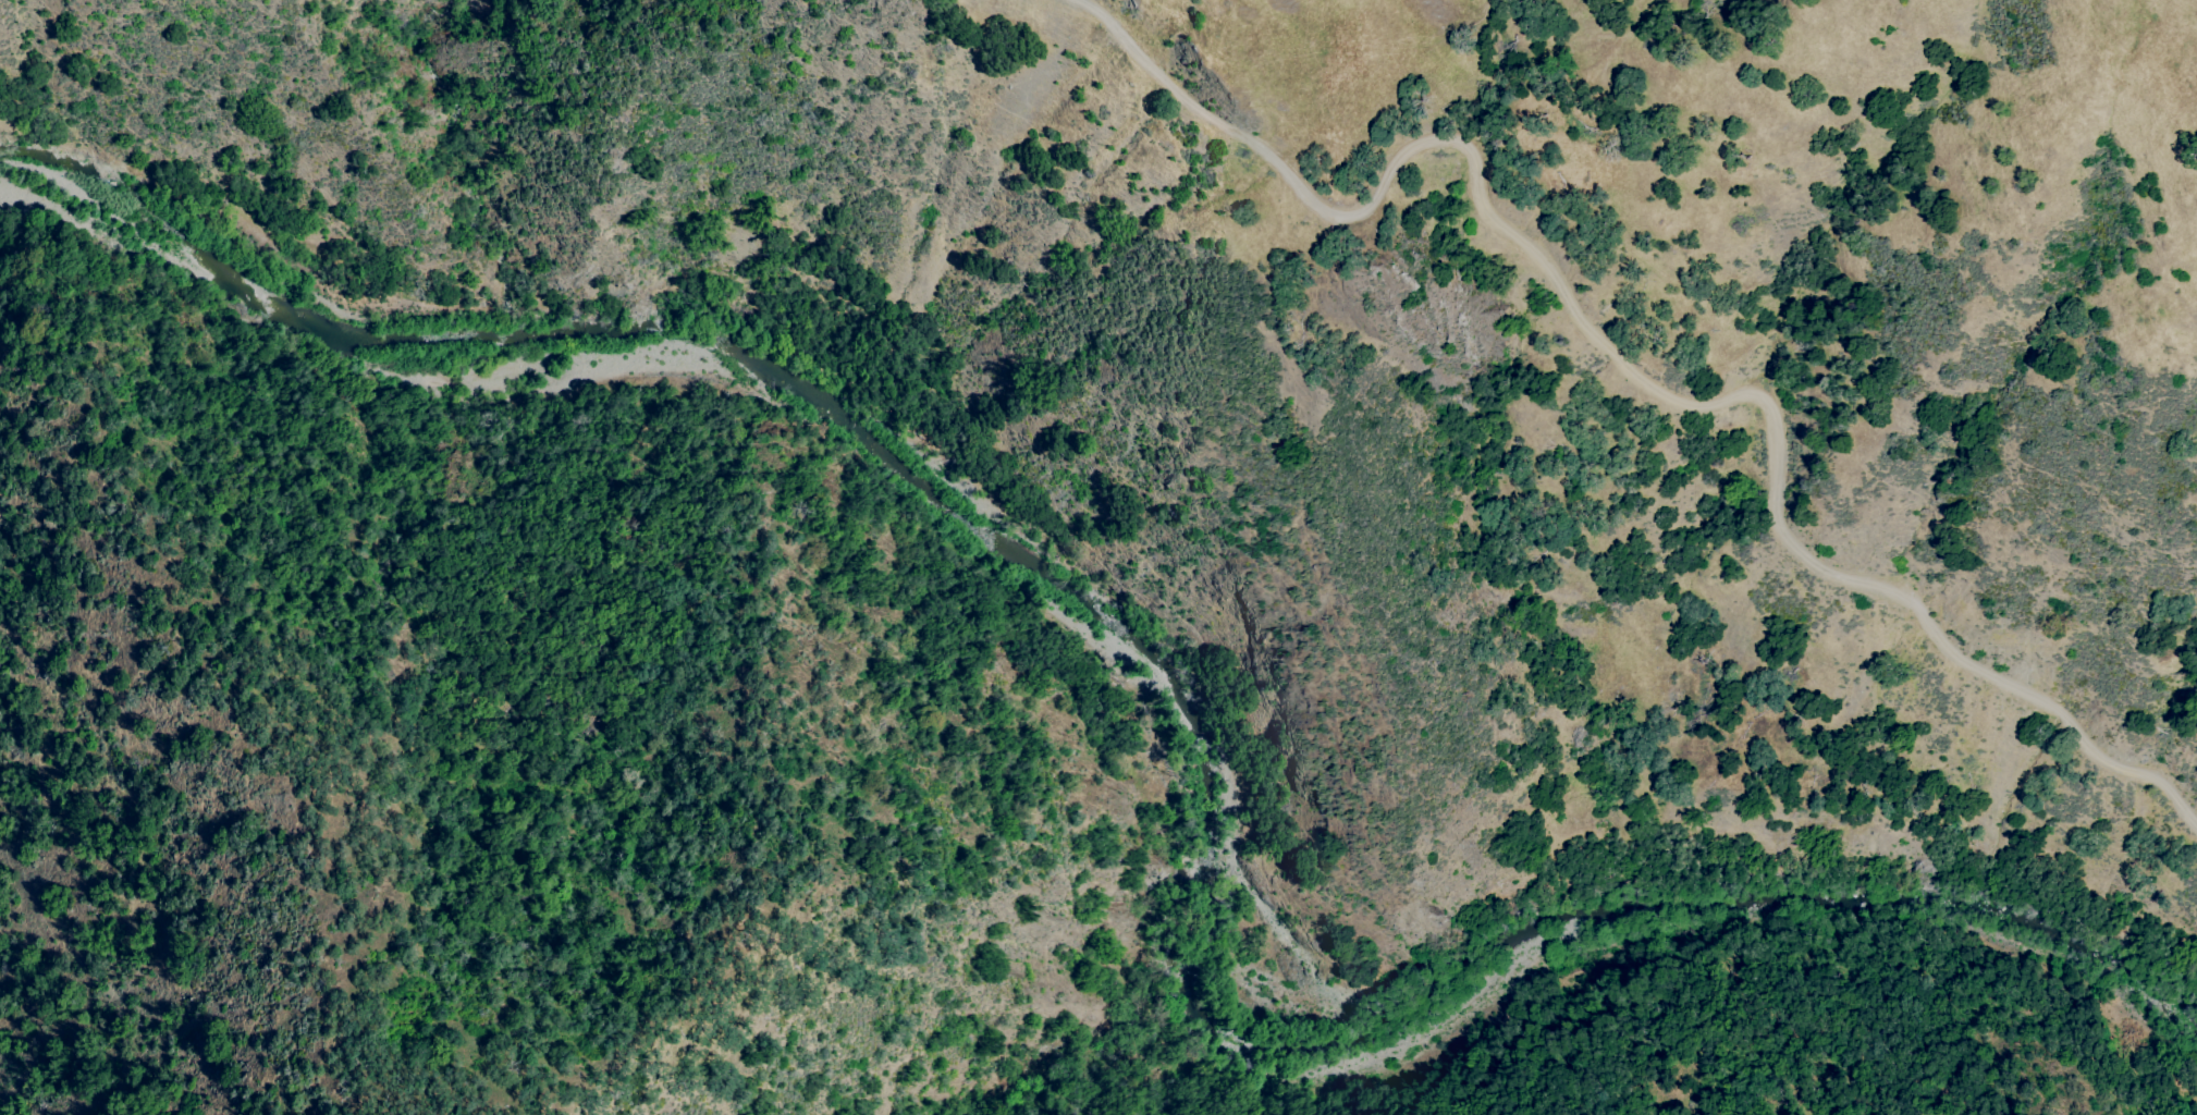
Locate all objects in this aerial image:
river: (228, 265)
road: (1616, 356)

